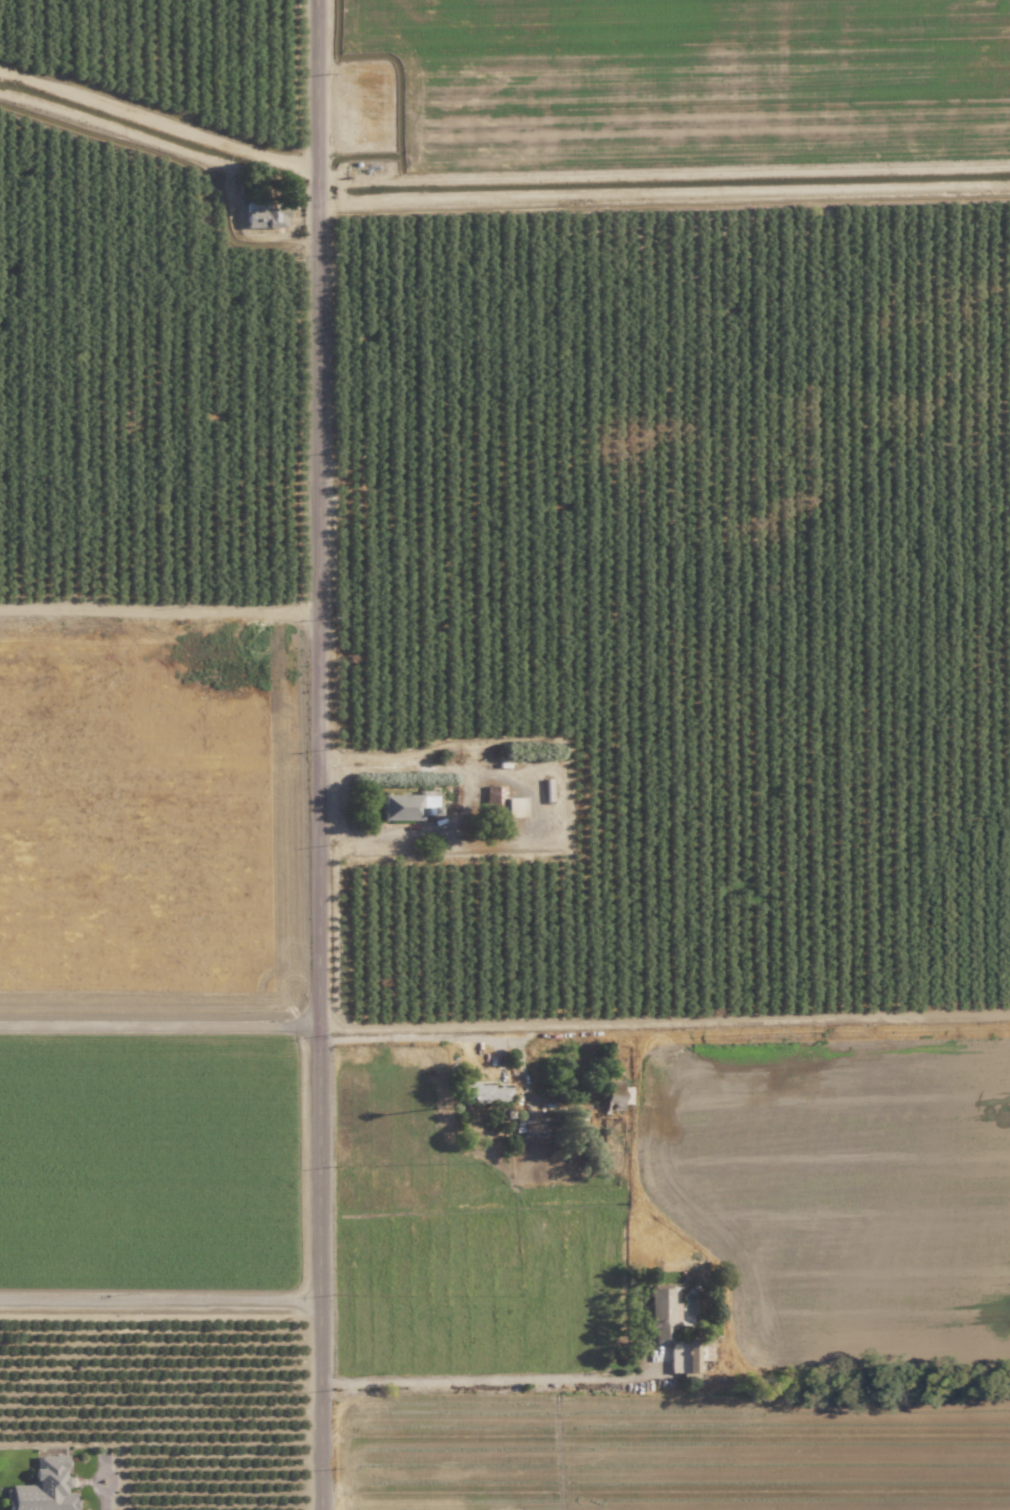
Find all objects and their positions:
road: (316, 71)
building: (265, 215)
building: (491, 795)
building: (409, 805)
building: (515, 807)
road: (322, 826)
road: (573, 1026)
road: (161, 1031)
building: (486, 1093)
building: (618, 1099)
road: (162, 1297)
building: (663, 1333)
road: (493, 1377)
building: (46, 1487)

